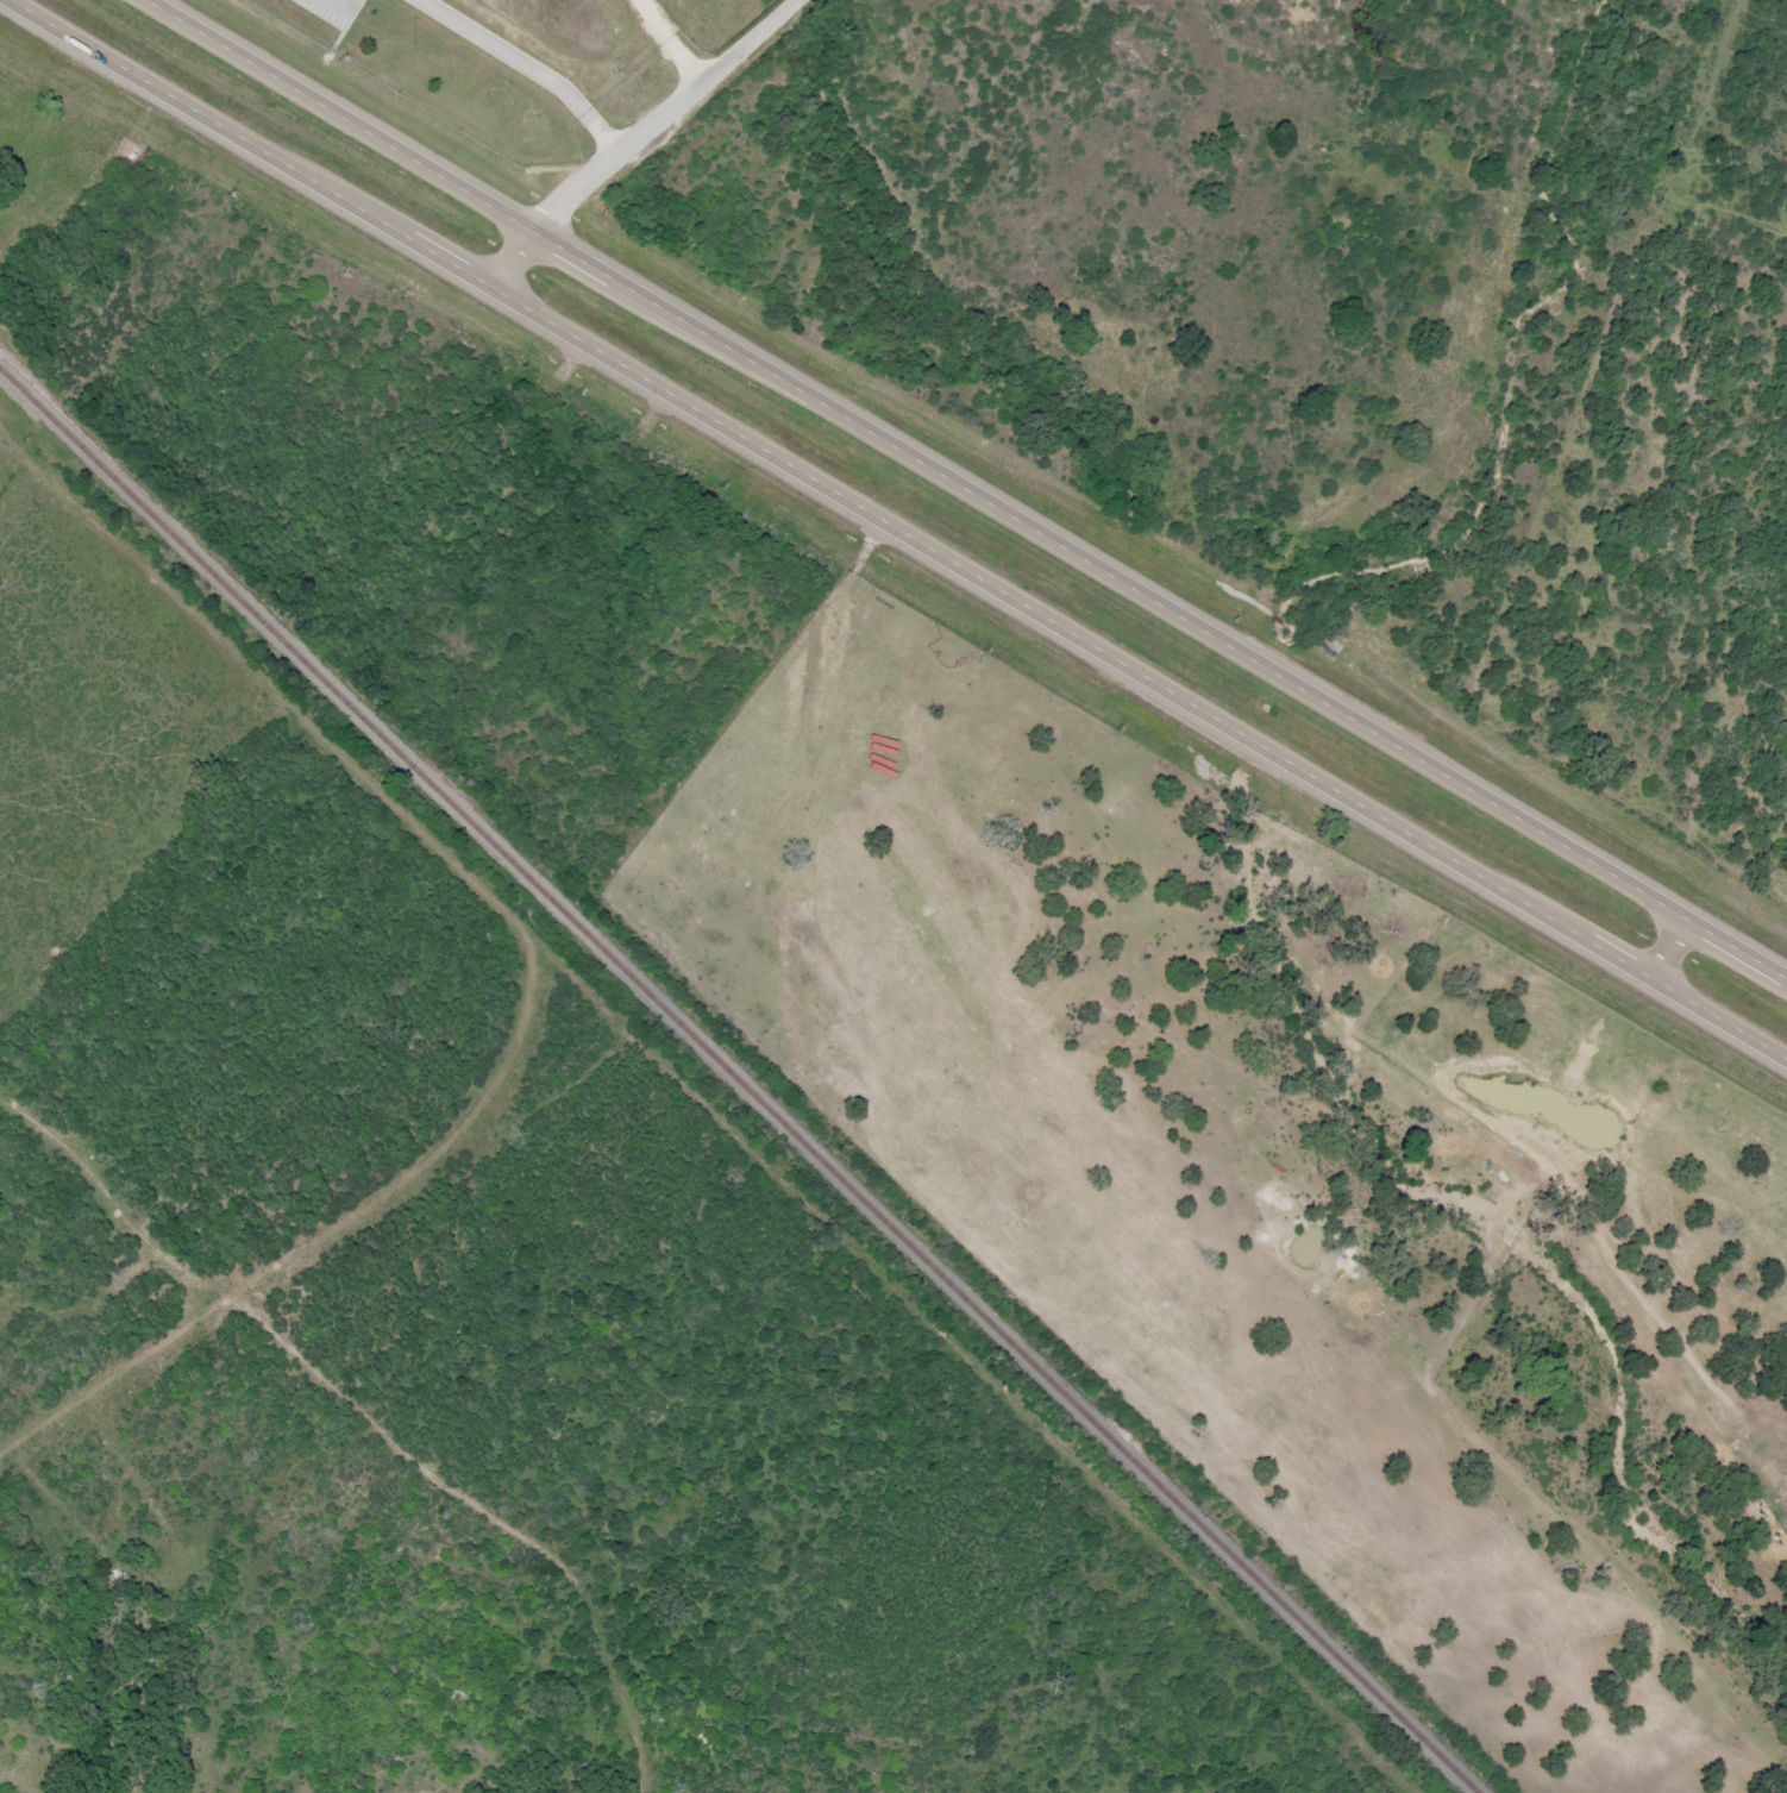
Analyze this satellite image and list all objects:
road: (629, 134)
road: (967, 499)
road: (896, 528)
road: (1663, 948)
railway: (736, 1080)
road: (453, 1526)

